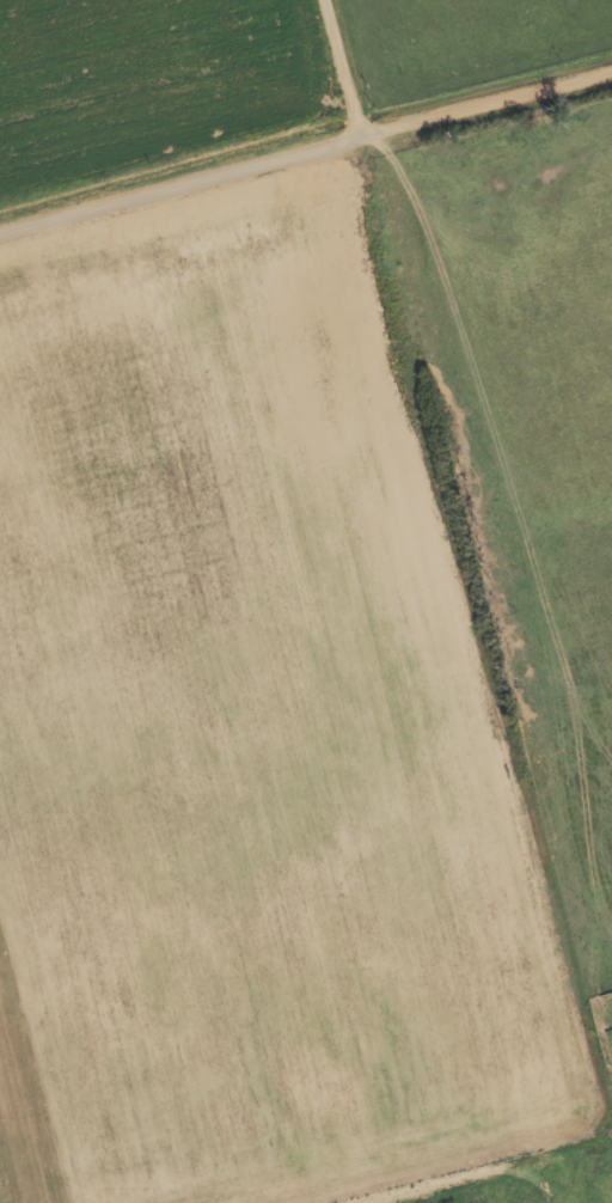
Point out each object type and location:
road: (347, 68)
road: (305, 152)

